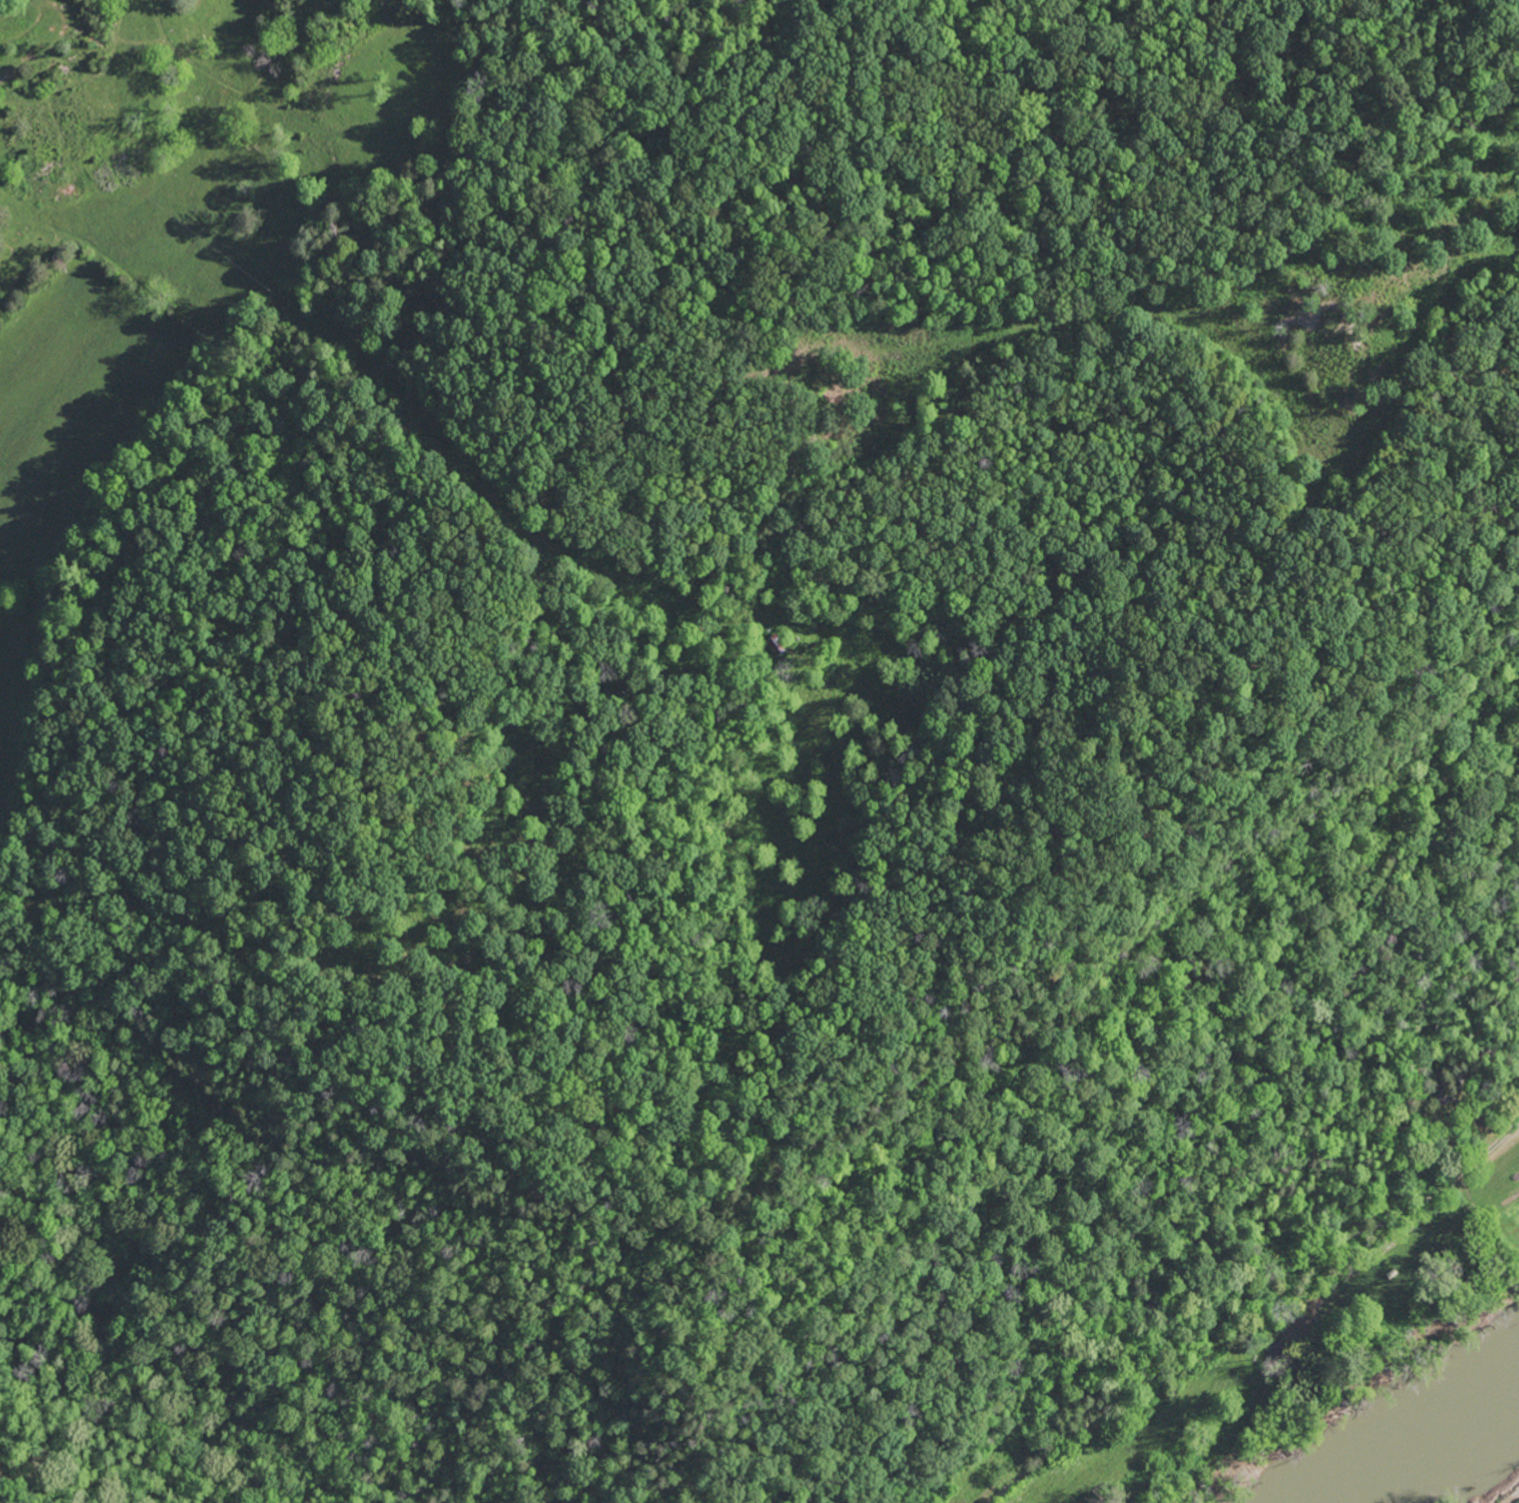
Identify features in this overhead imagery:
river: (1427, 1436)
road: (21, 1485)

